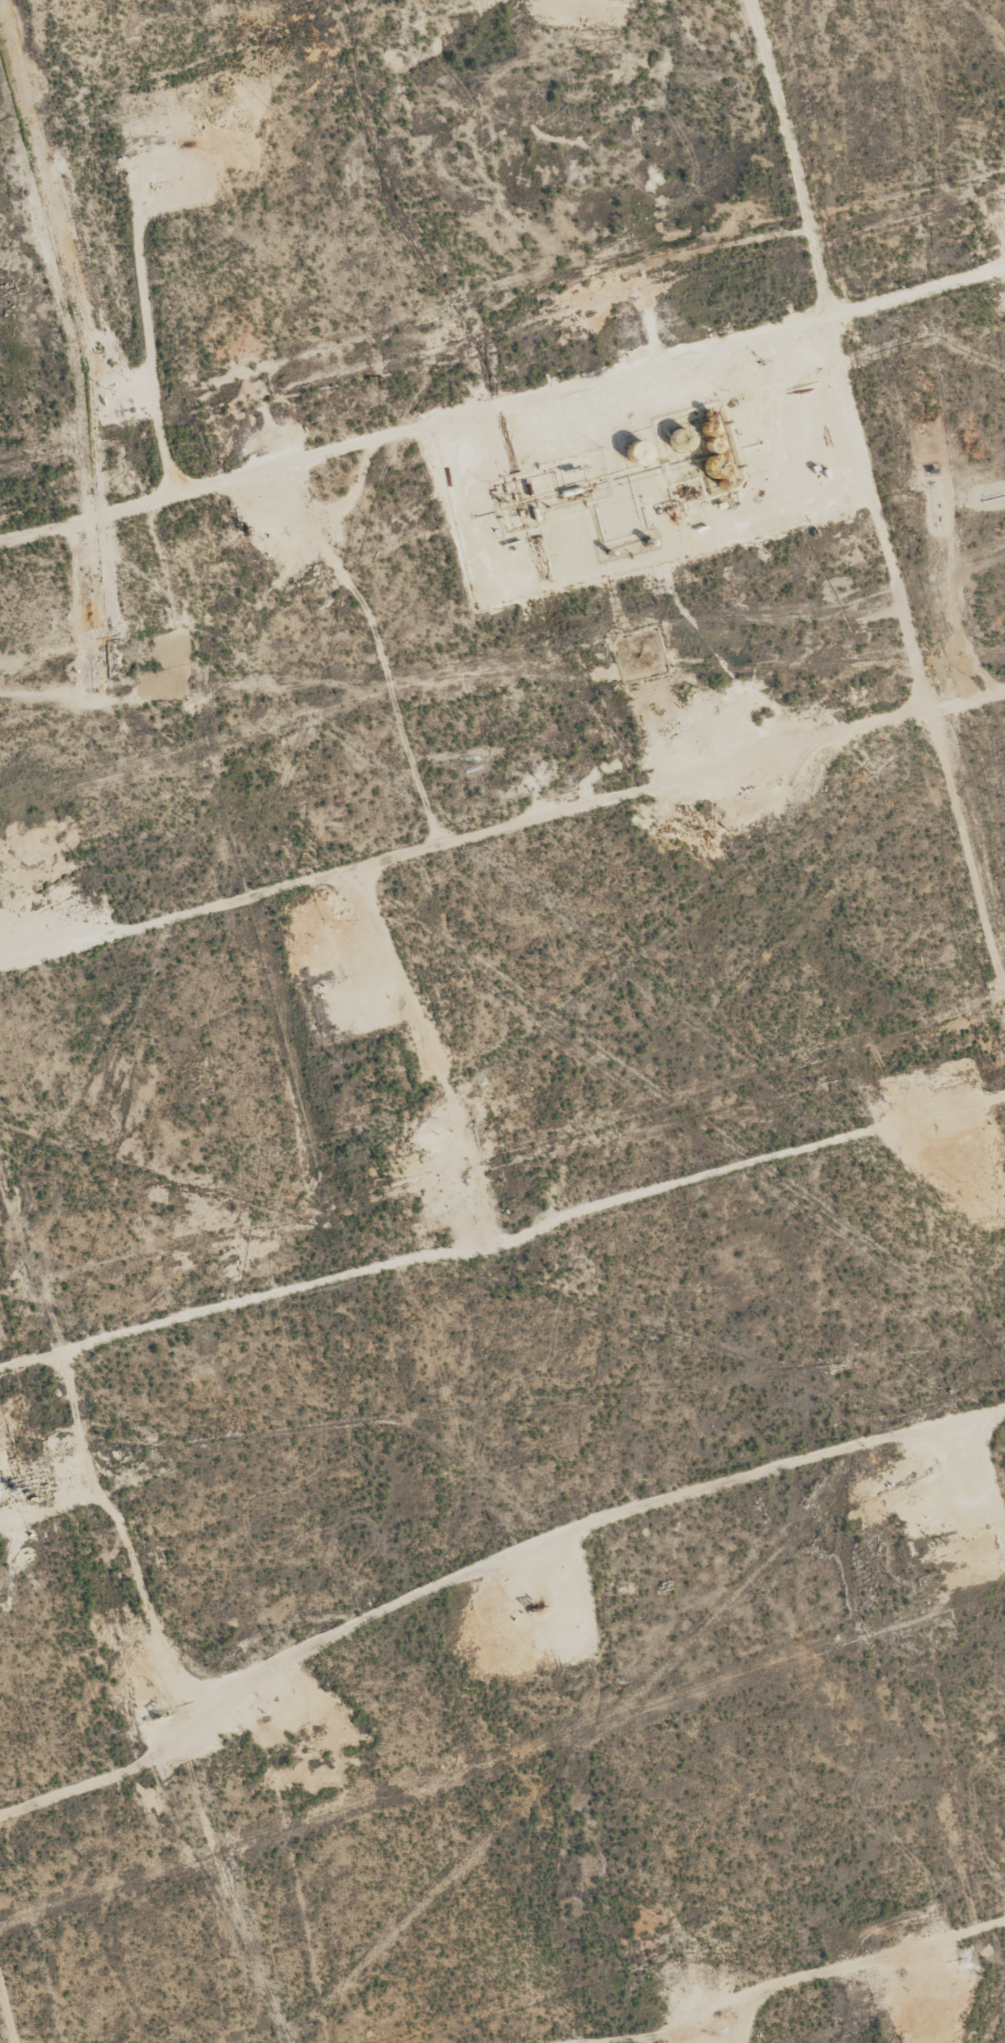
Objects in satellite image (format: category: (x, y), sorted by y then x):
road: (876, 496)
road: (968, 703)
road: (150, 894)

